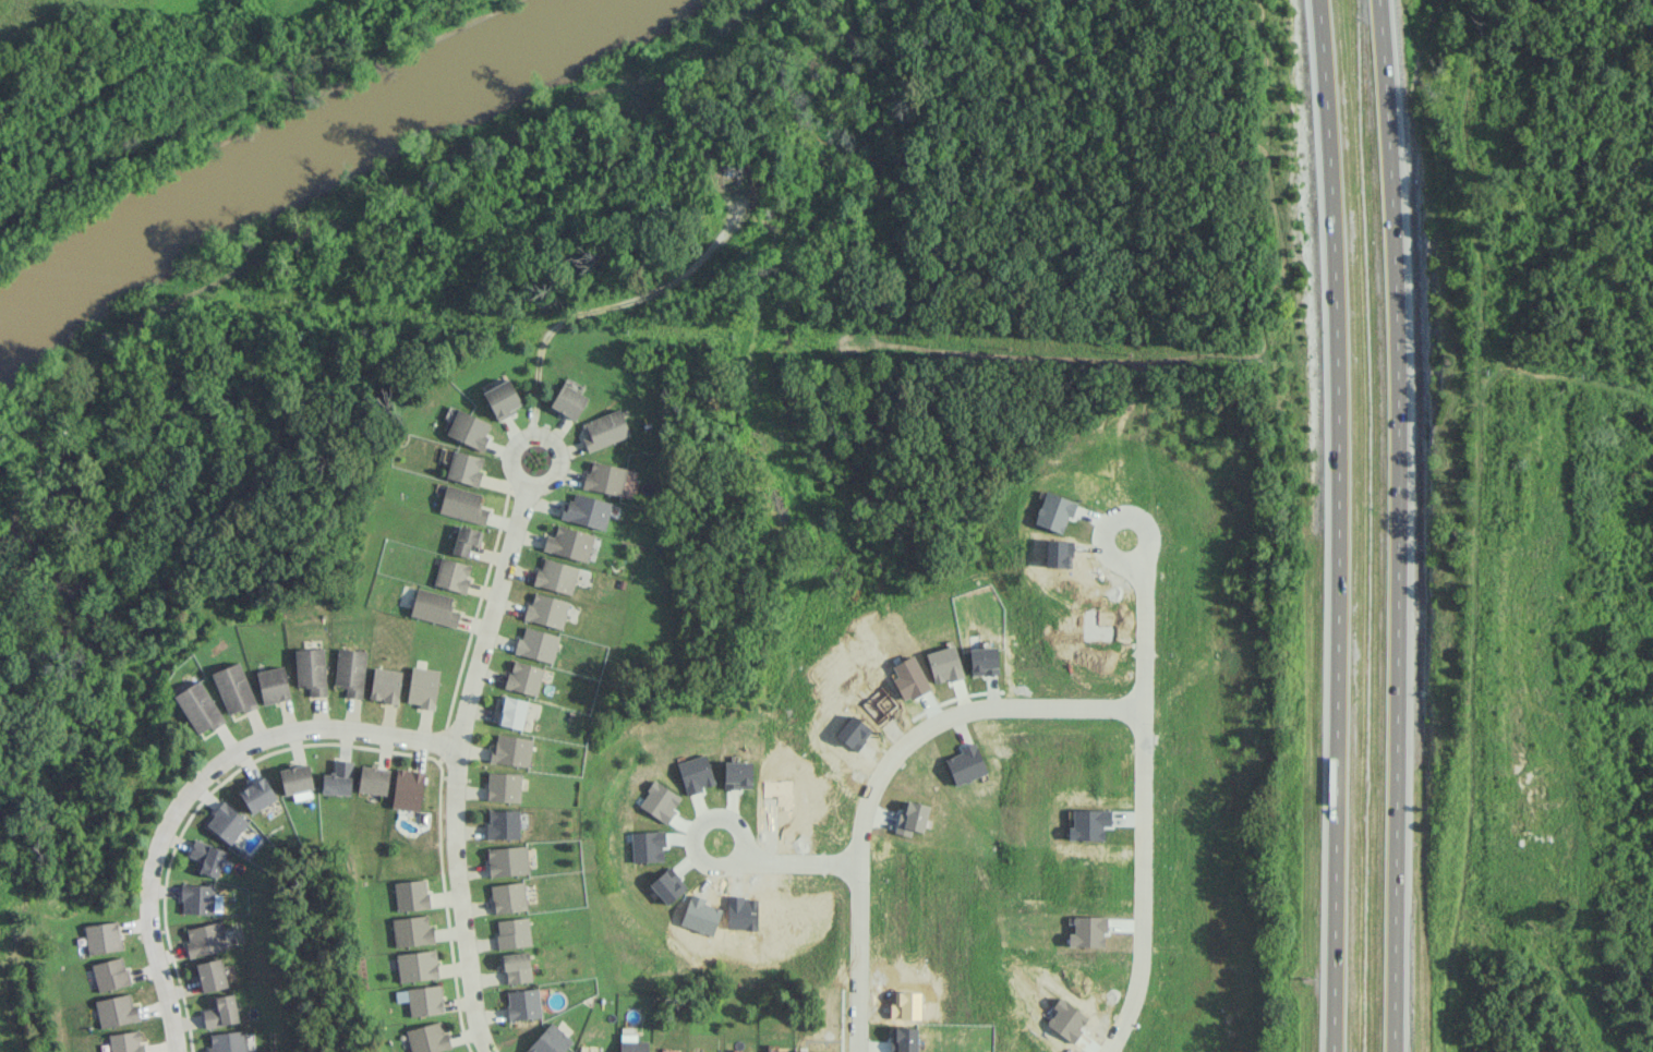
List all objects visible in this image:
building: (502, 399)
building: (568, 401)
building: (468, 428)
building: (604, 430)
road: (543, 438)
building: (464, 468)
building: (604, 477)
building: (462, 504)
building: (587, 510)
road: (1337, 525)
road: (1398, 525)
building: (466, 540)
building: (568, 543)
building: (453, 575)
building: (556, 575)
building: (434, 607)
building: (546, 610)
building: (536, 644)
building: (311, 669)
building: (350, 670)
building: (524, 677)
building: (273, 685)
building: (385, 685)
building: (423, 687)
building: (233, 688)
building: (198, 706)
building: (512, 712)
building: (511, 750)
road: (456, 766)
road: (883, 770)
building: (295, 778)
building: (338, 778)
building: (373, 779)
road: (193, 784)
building: (504, 786)
building: (408, 789)
building: (257, 795)
road: (1147, 797)
road: (716, 815)
building: (226, 822)
building: (503, 823)
building: (207, 857)
building: (508, 860)
road: (799, 860)
building: (411, 894)
building: (508, 897)
building: (197, 898)
building: (412, 930)
building: (514, 932)
building: (102, 936)
building: (205, 939)
building: (417, 965)
building: (517, 967)
building: (110, 974)
building: (212, 975)
building: (422, 999)
building: (523, 1003)
building: (116, 1011)
building: (221, 1011)
building: (427, 1038)
building: (551, 1040)
building: (126, 1041)
building: (228, 1041)
building: (632, 1043)

